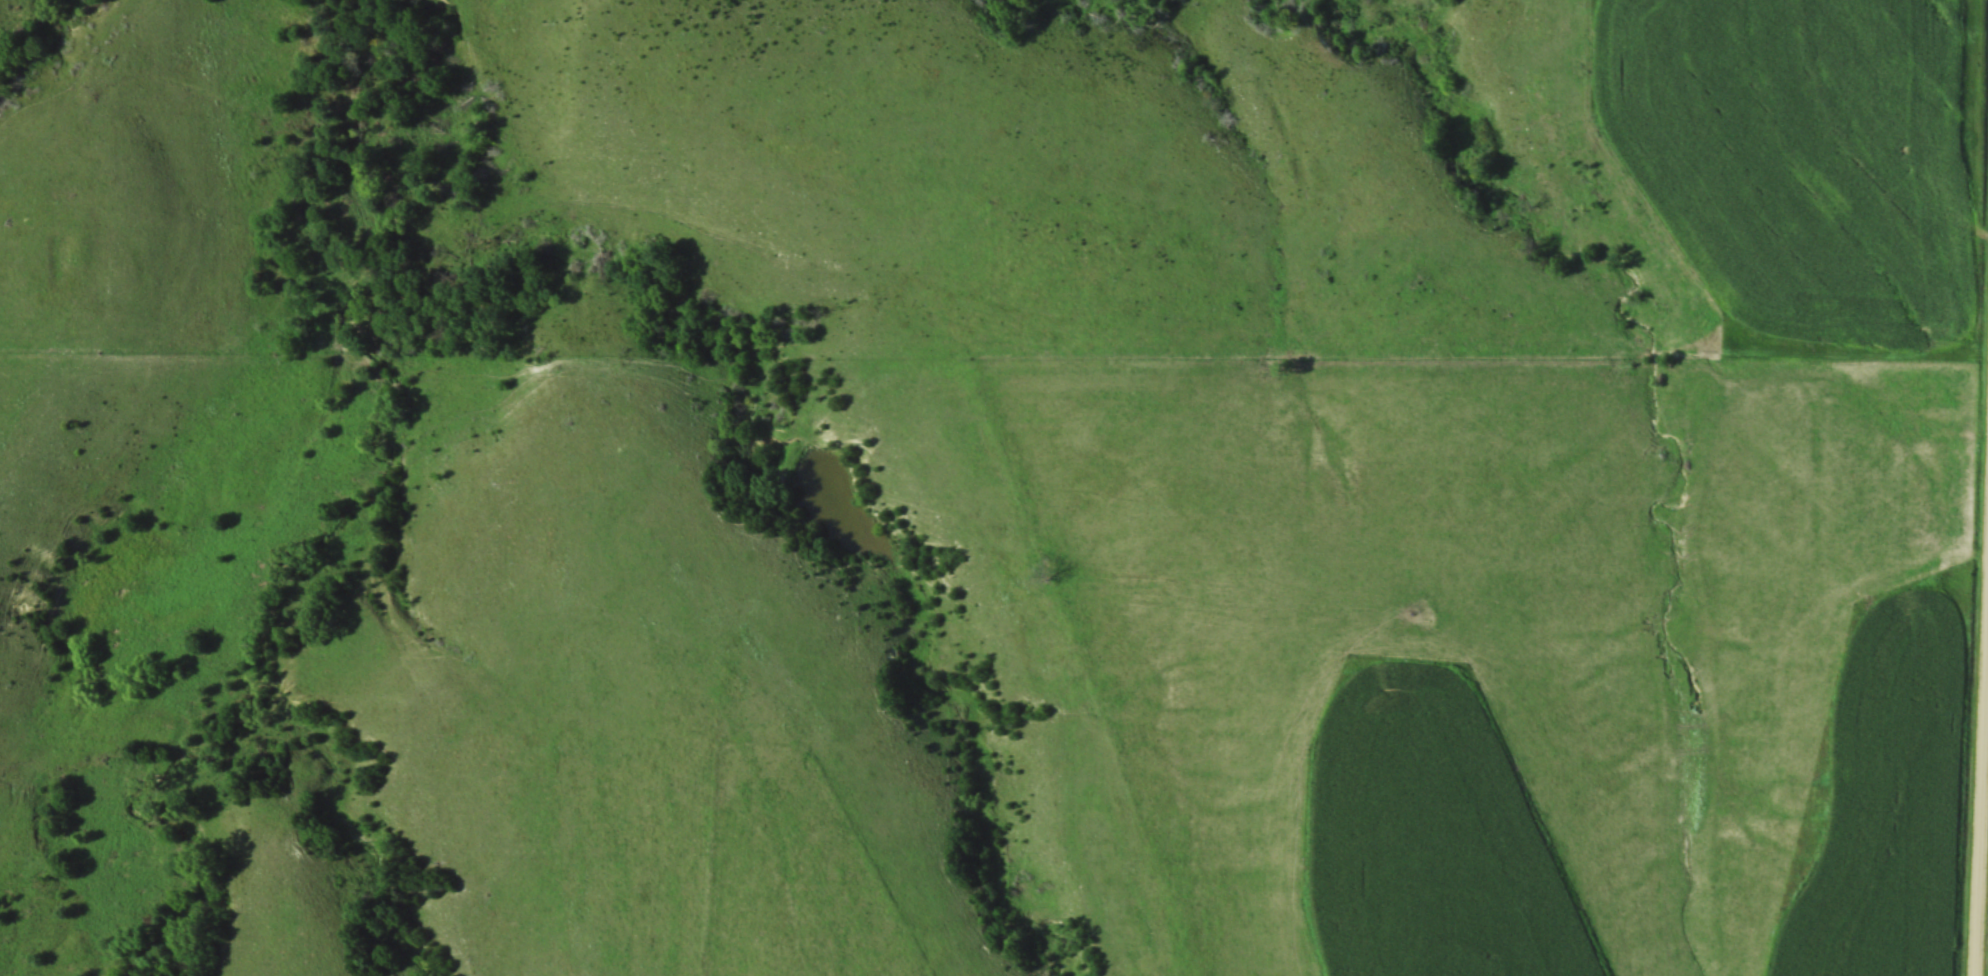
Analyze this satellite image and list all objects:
road: (1976, 605)

